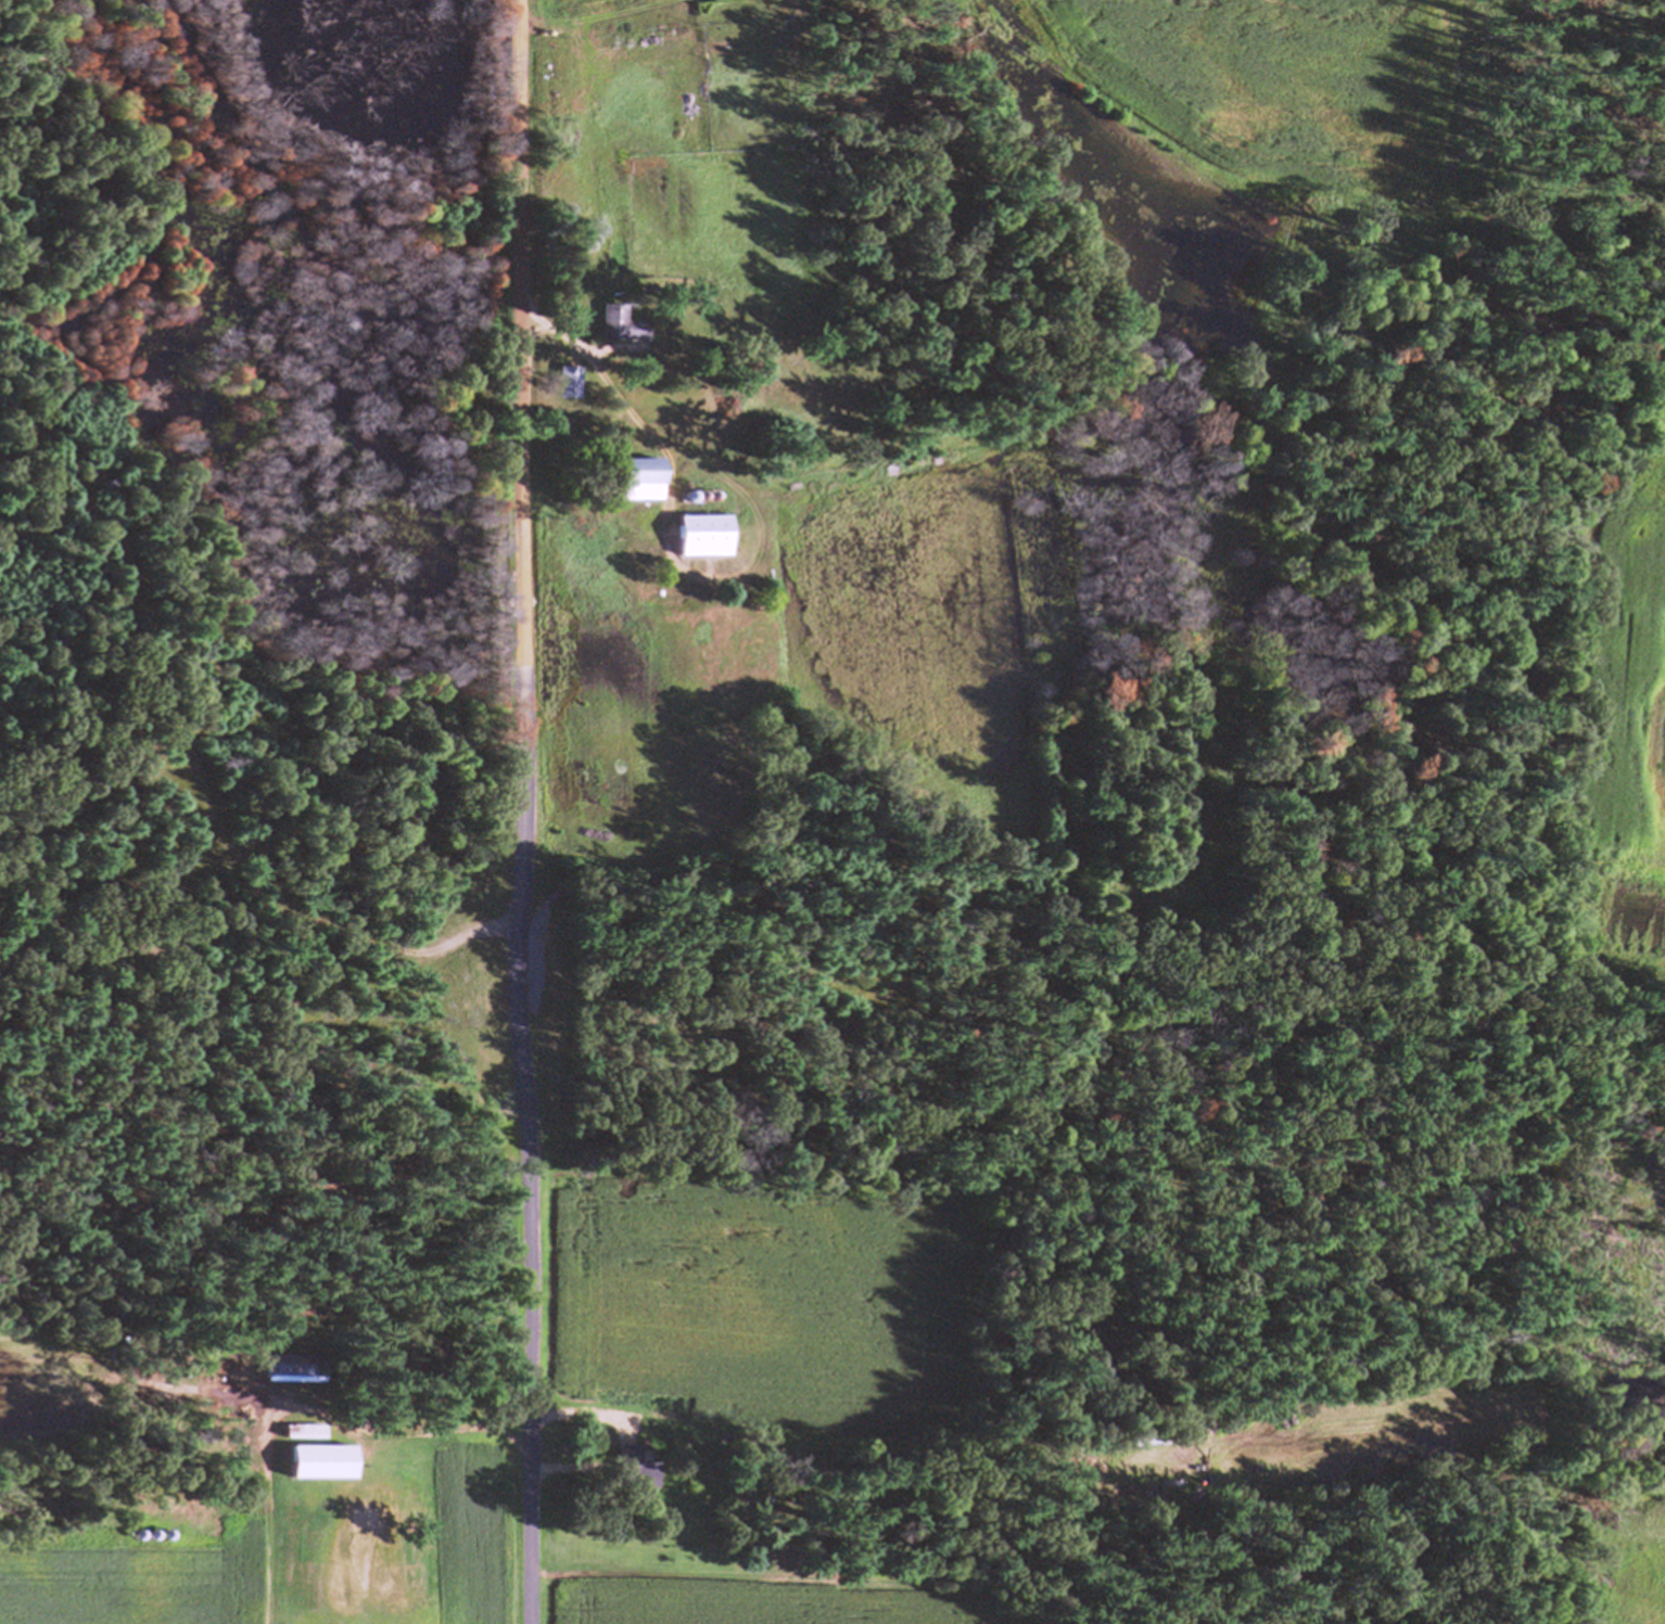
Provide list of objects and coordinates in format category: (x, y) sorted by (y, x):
building: (619, 327)
building: (565, 384)
building: (634, 481)
building: (698, 537)
road: (511, 831)
building: (290, 1374)
building: (300, 1450)
building: (628, 1471)

